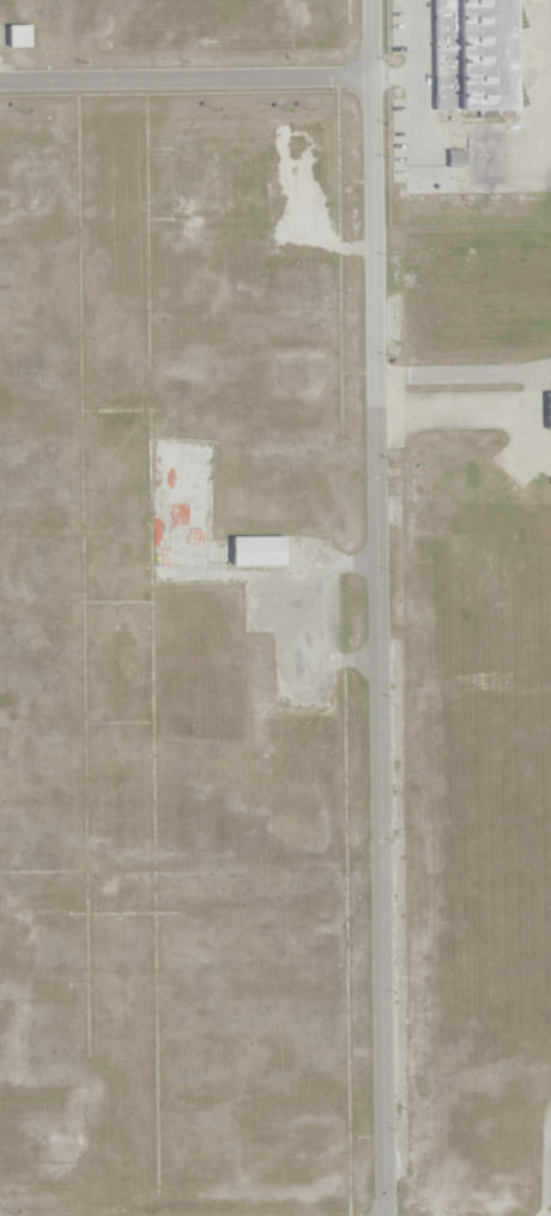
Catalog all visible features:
building: (476, 55)
airport apron: (476, 67)
road: (184, 80)
airport: (474, 94)
building: (549, 411)
building: (255, 552)
road: (376, 608)

